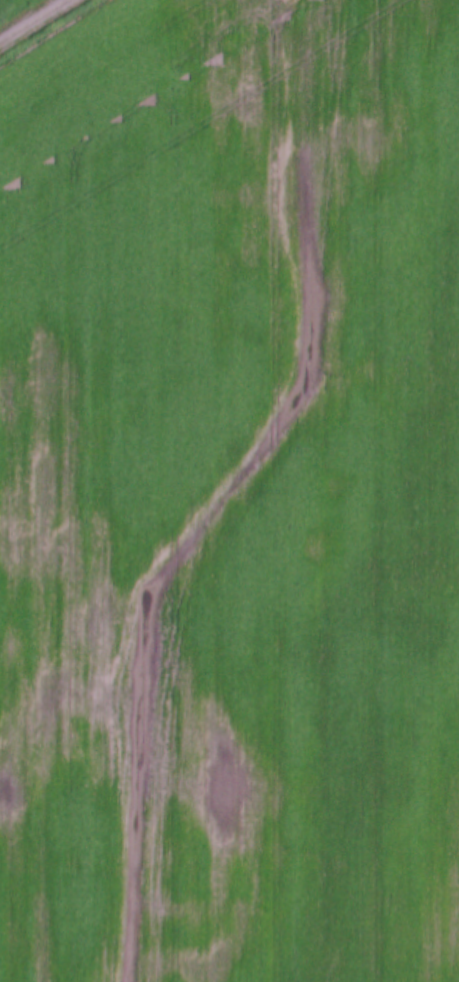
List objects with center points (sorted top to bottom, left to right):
railway: (34, 21)

